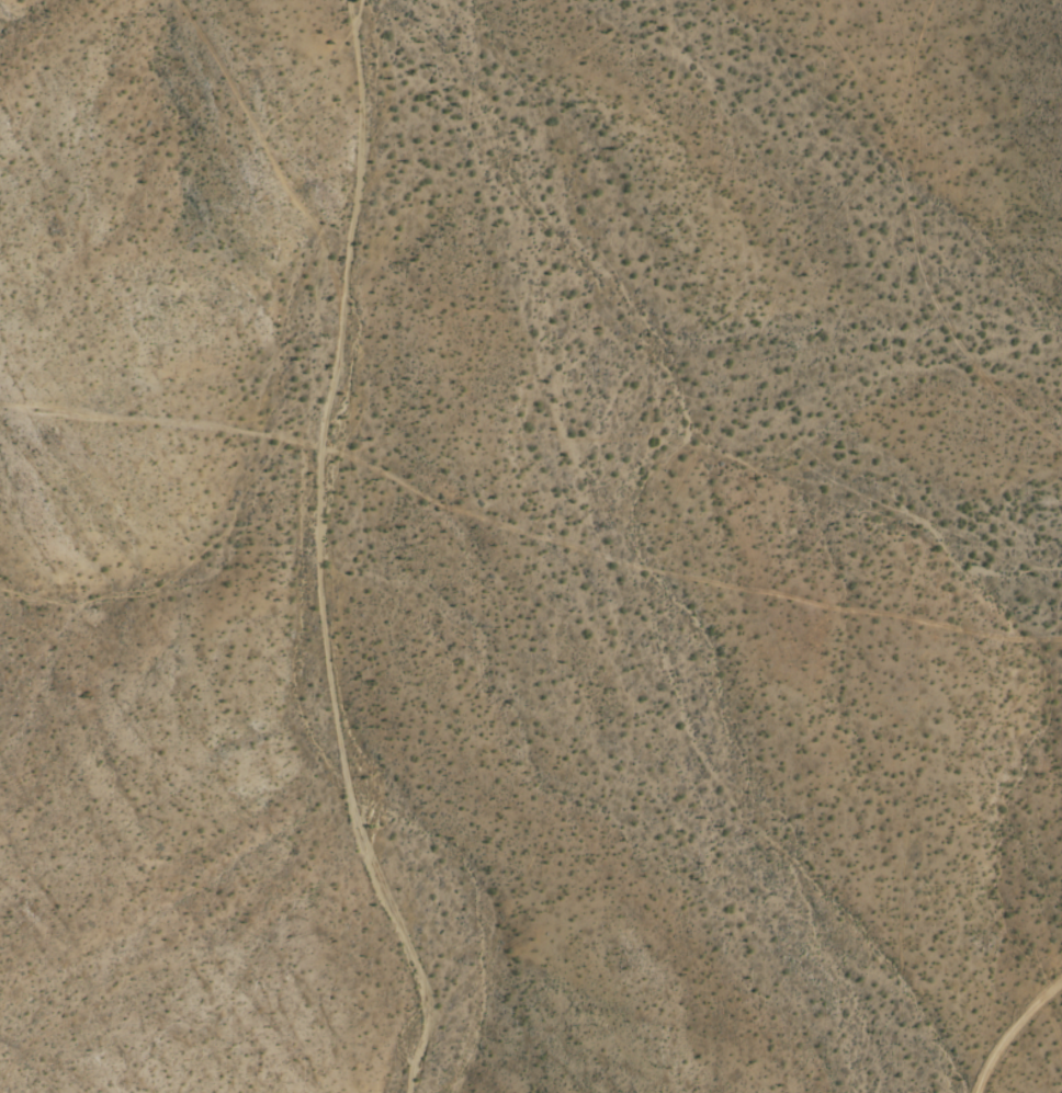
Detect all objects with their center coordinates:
road: (1017, 1037)

